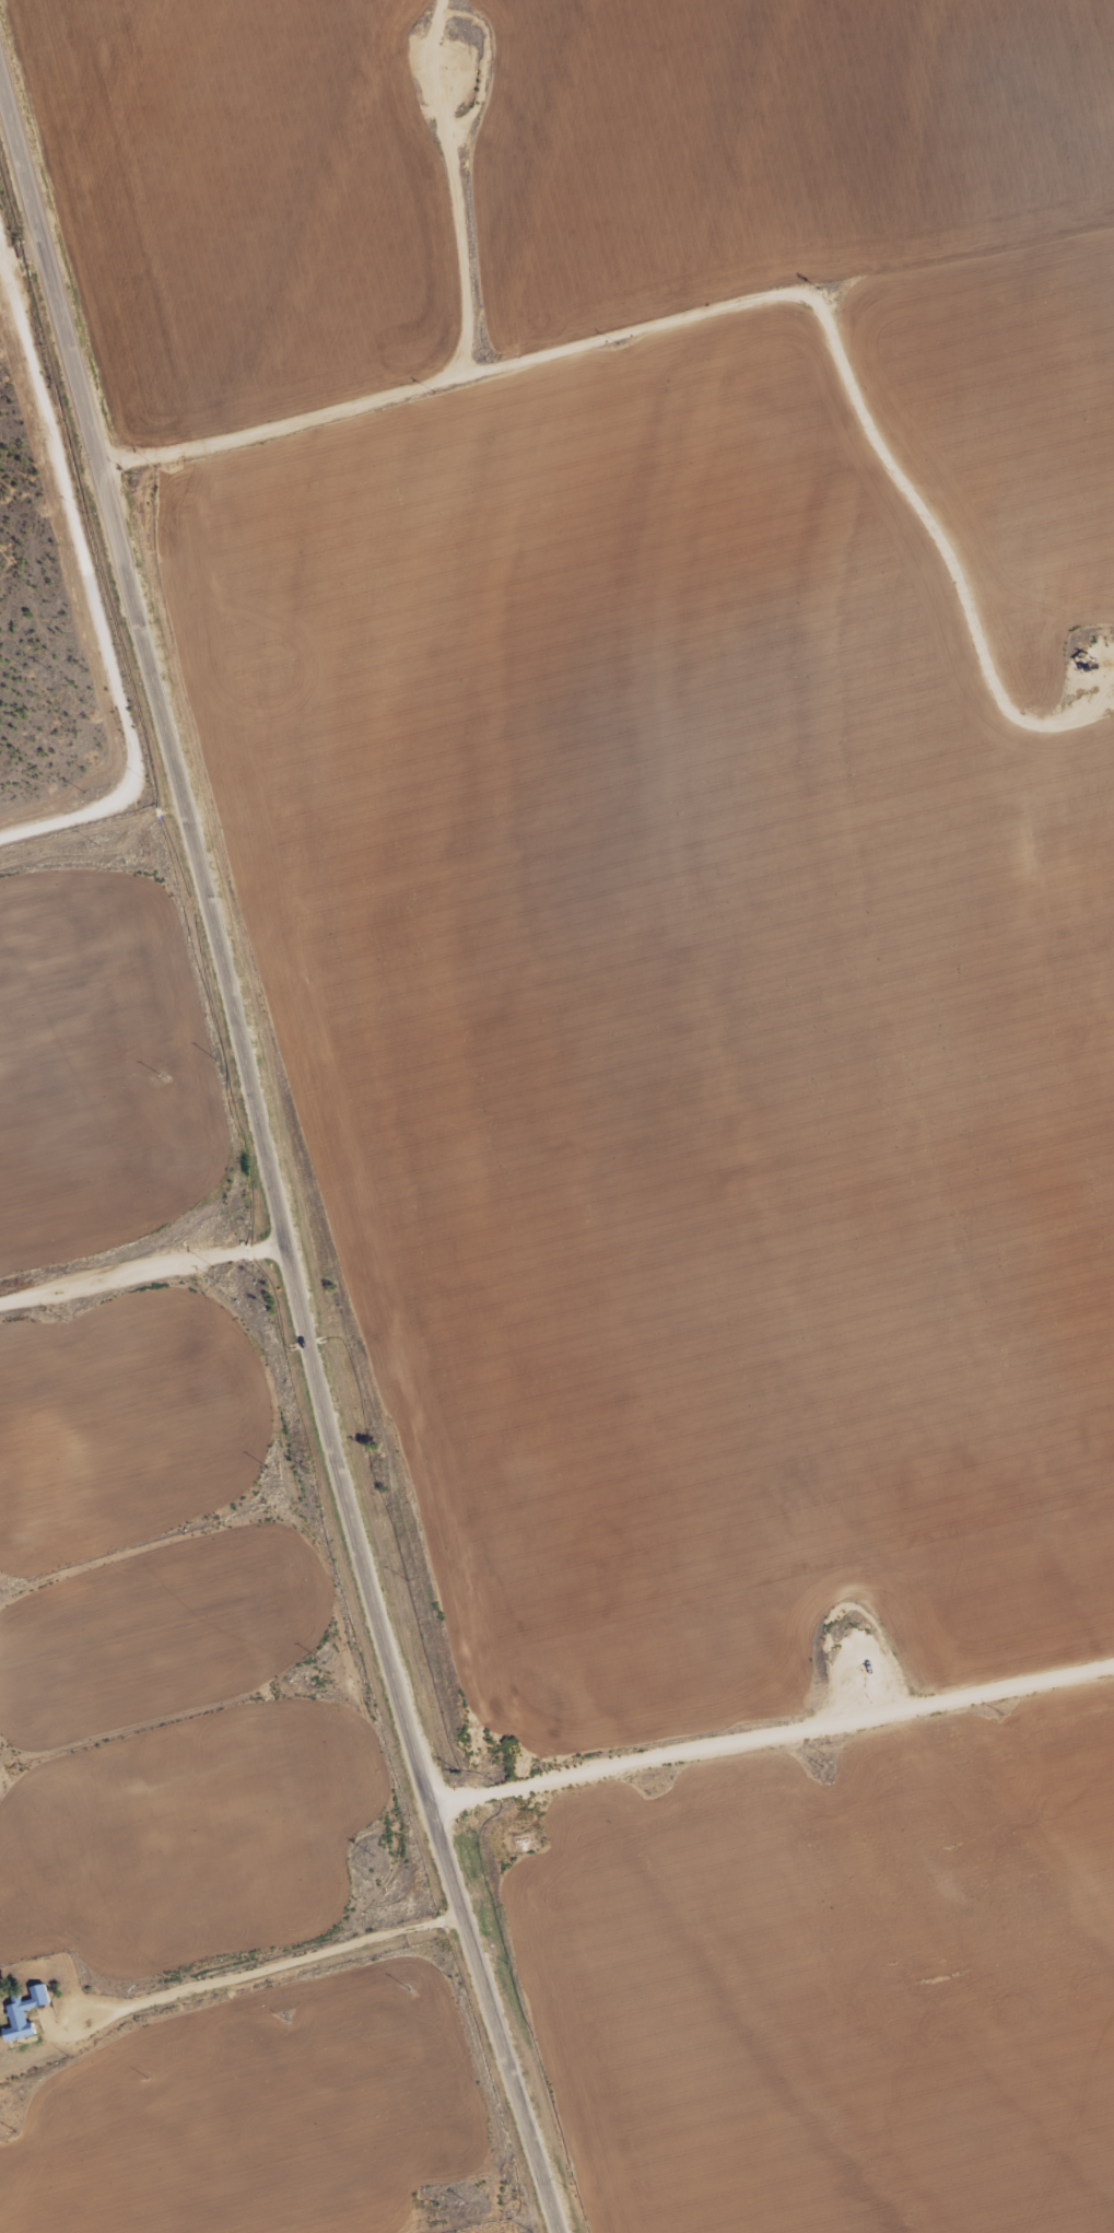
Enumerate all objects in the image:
road: (268, 1160)
road: (773, 1735)
road: (275, 1966)
building: (19, 2014)

